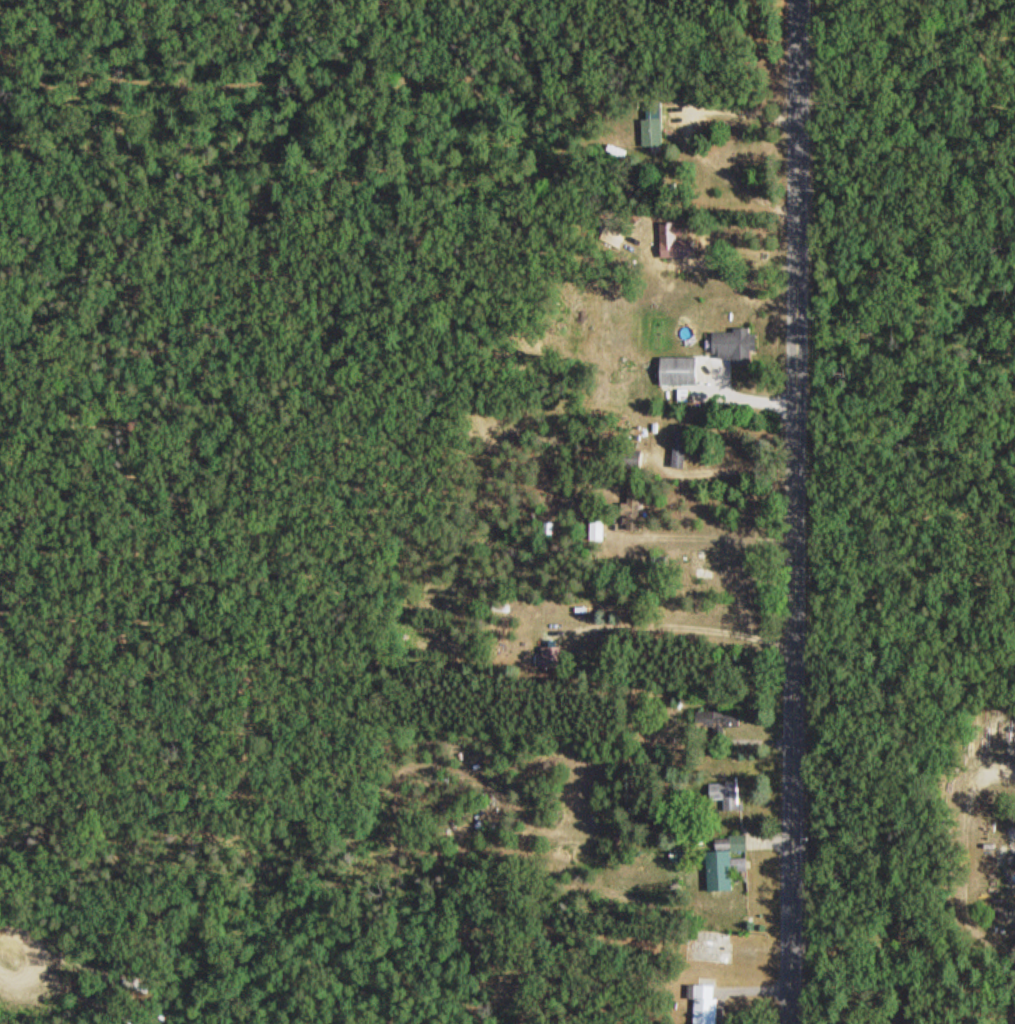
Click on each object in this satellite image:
building: (655, 124)
building: (729, 343)
road: (750, 399)
road: (796, 512)
building: (549, 527)
building: (599, 528)
building: (702, 559)
building: (564, 656)
building: (727, 793)
building: (730, 863)
road: (6, 943)
building: (722, 946)
building: (701, 1003)

